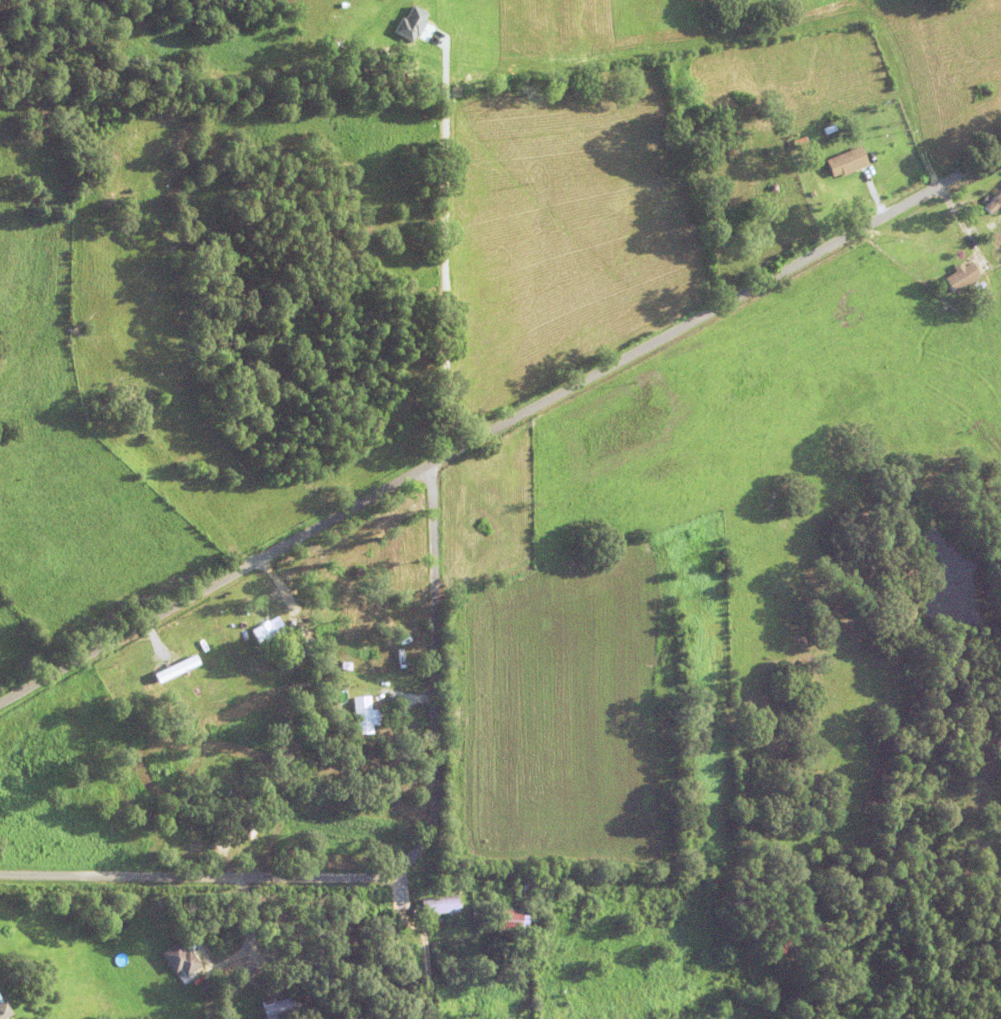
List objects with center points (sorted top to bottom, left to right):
building: (410, 23)
building: (157, 108)
building: (830, 128)
building: (848, 160)
building: (976, 185)
building: (776, 186)
building: (994, 202)
building: (997, 221)
building: (963, 275)
building: (980, 284)
road: (499, 426)
building: (358, 571)
building: (287, 620)
building: (269, 629)
building: (303, 649)
building: (175, 667)
building: (363, 713)
building: (376, 717)
road: (404, 861)
building: (526, 884)
building: (440, 904)
building: (477, 916)
building: (514, 920)
building: (451, 927)
building: (163, 934)
building: (176, 957)
building: (275, 1007)
building: (4, 1009)

